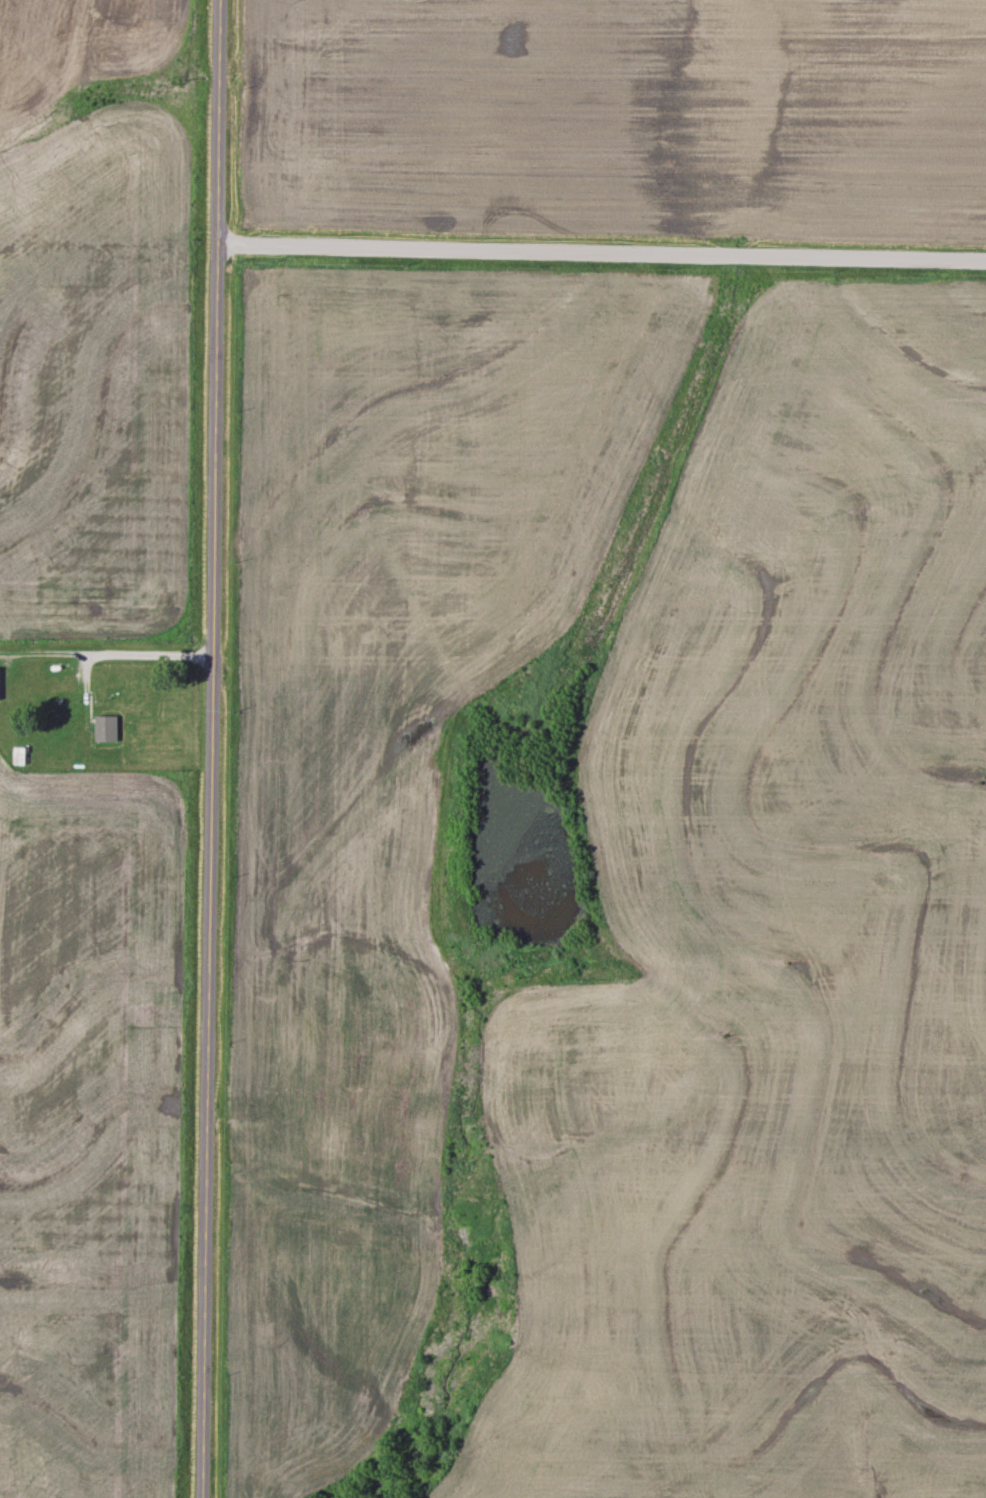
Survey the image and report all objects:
road: (600, 271)
road: (111, 655)
building: (105, 730)
road: (206, 749)
building: (19, 757)
building: (299, 1130)
building: (346, 1236)

